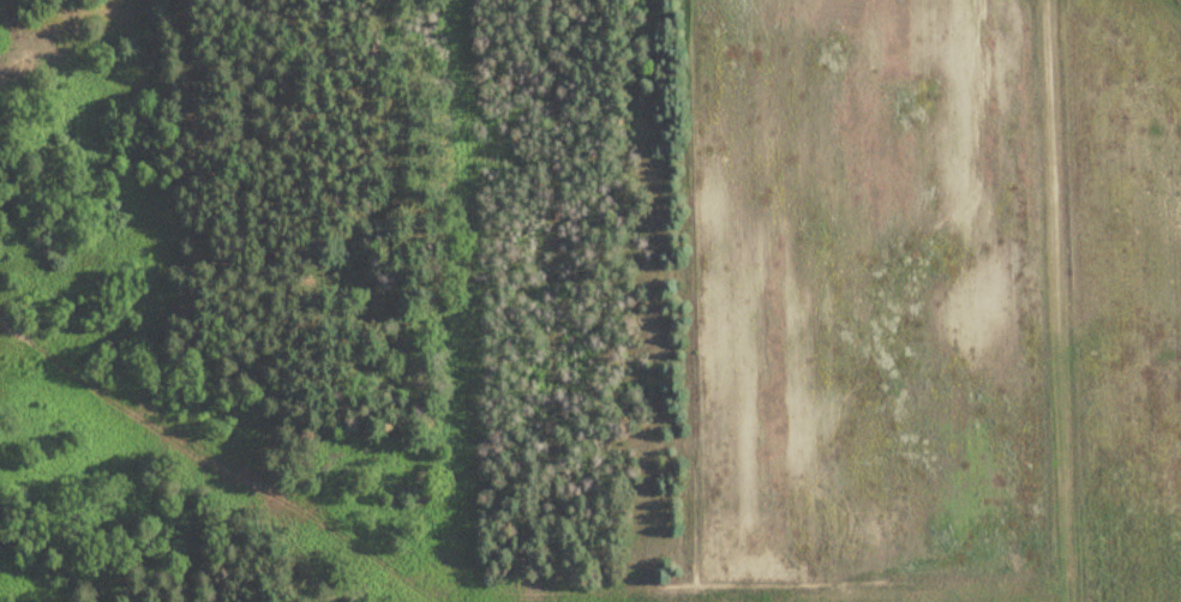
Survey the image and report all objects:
crop: (1121, 291)

